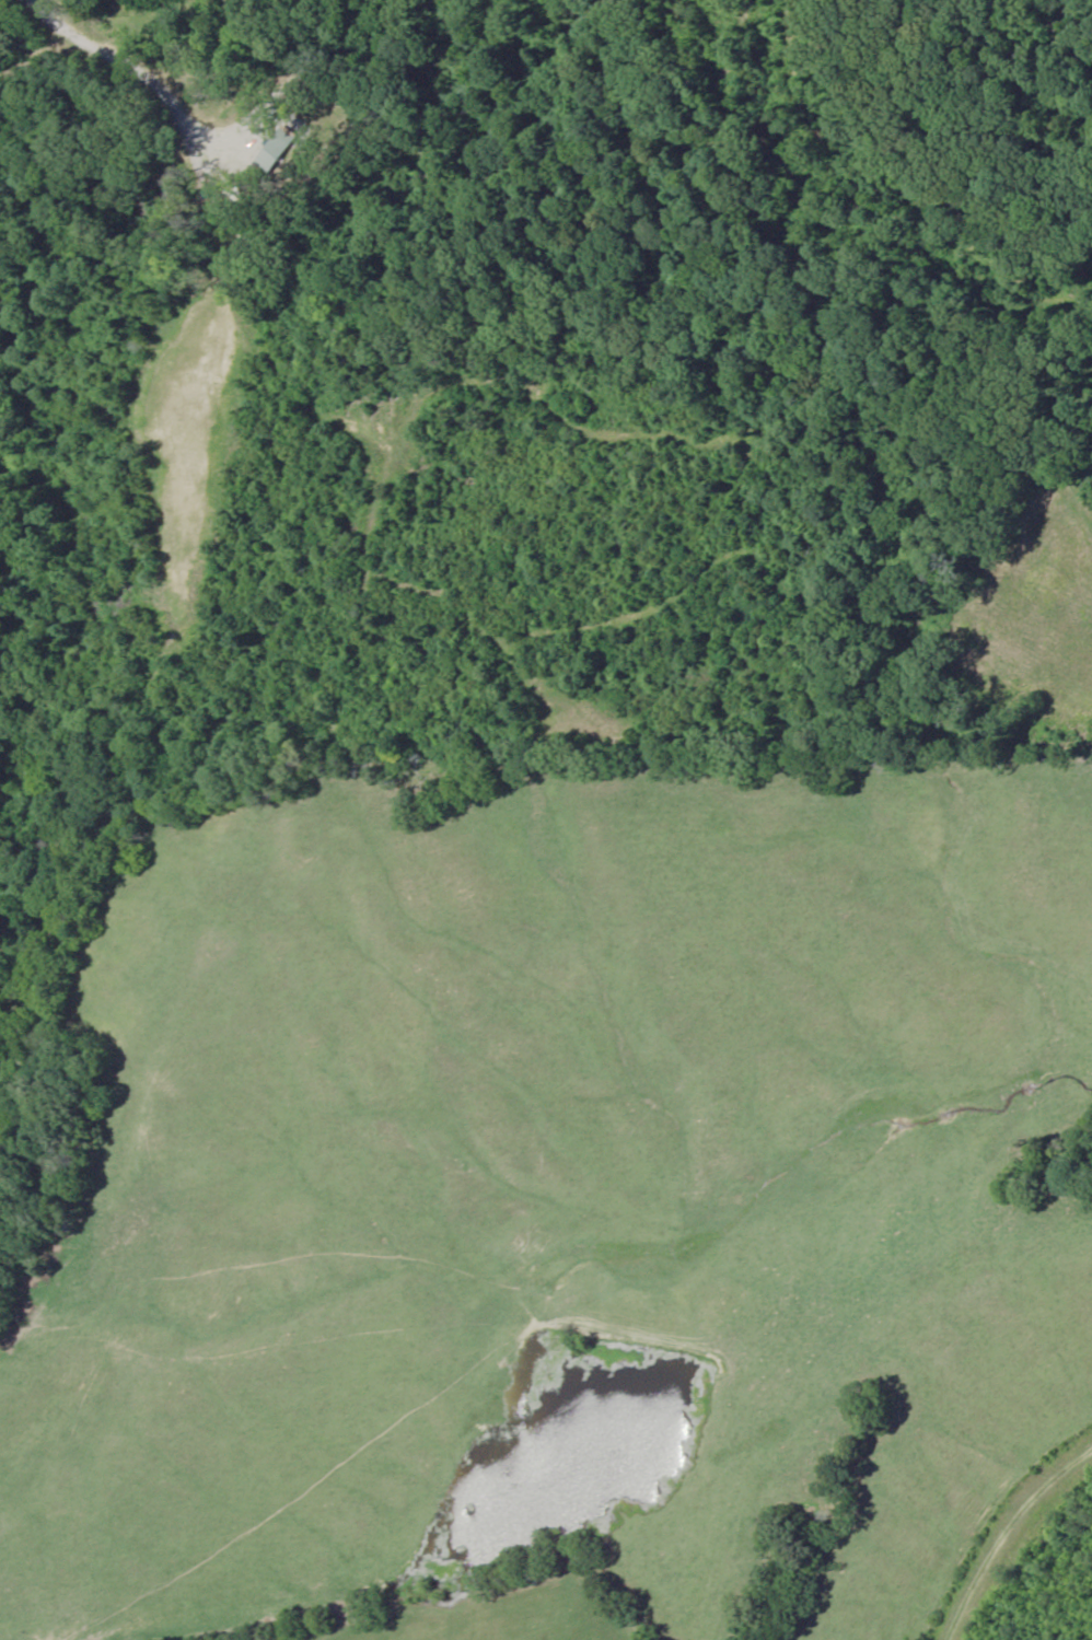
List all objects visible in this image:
building: (281, 146)
road: (1010, 1533)

